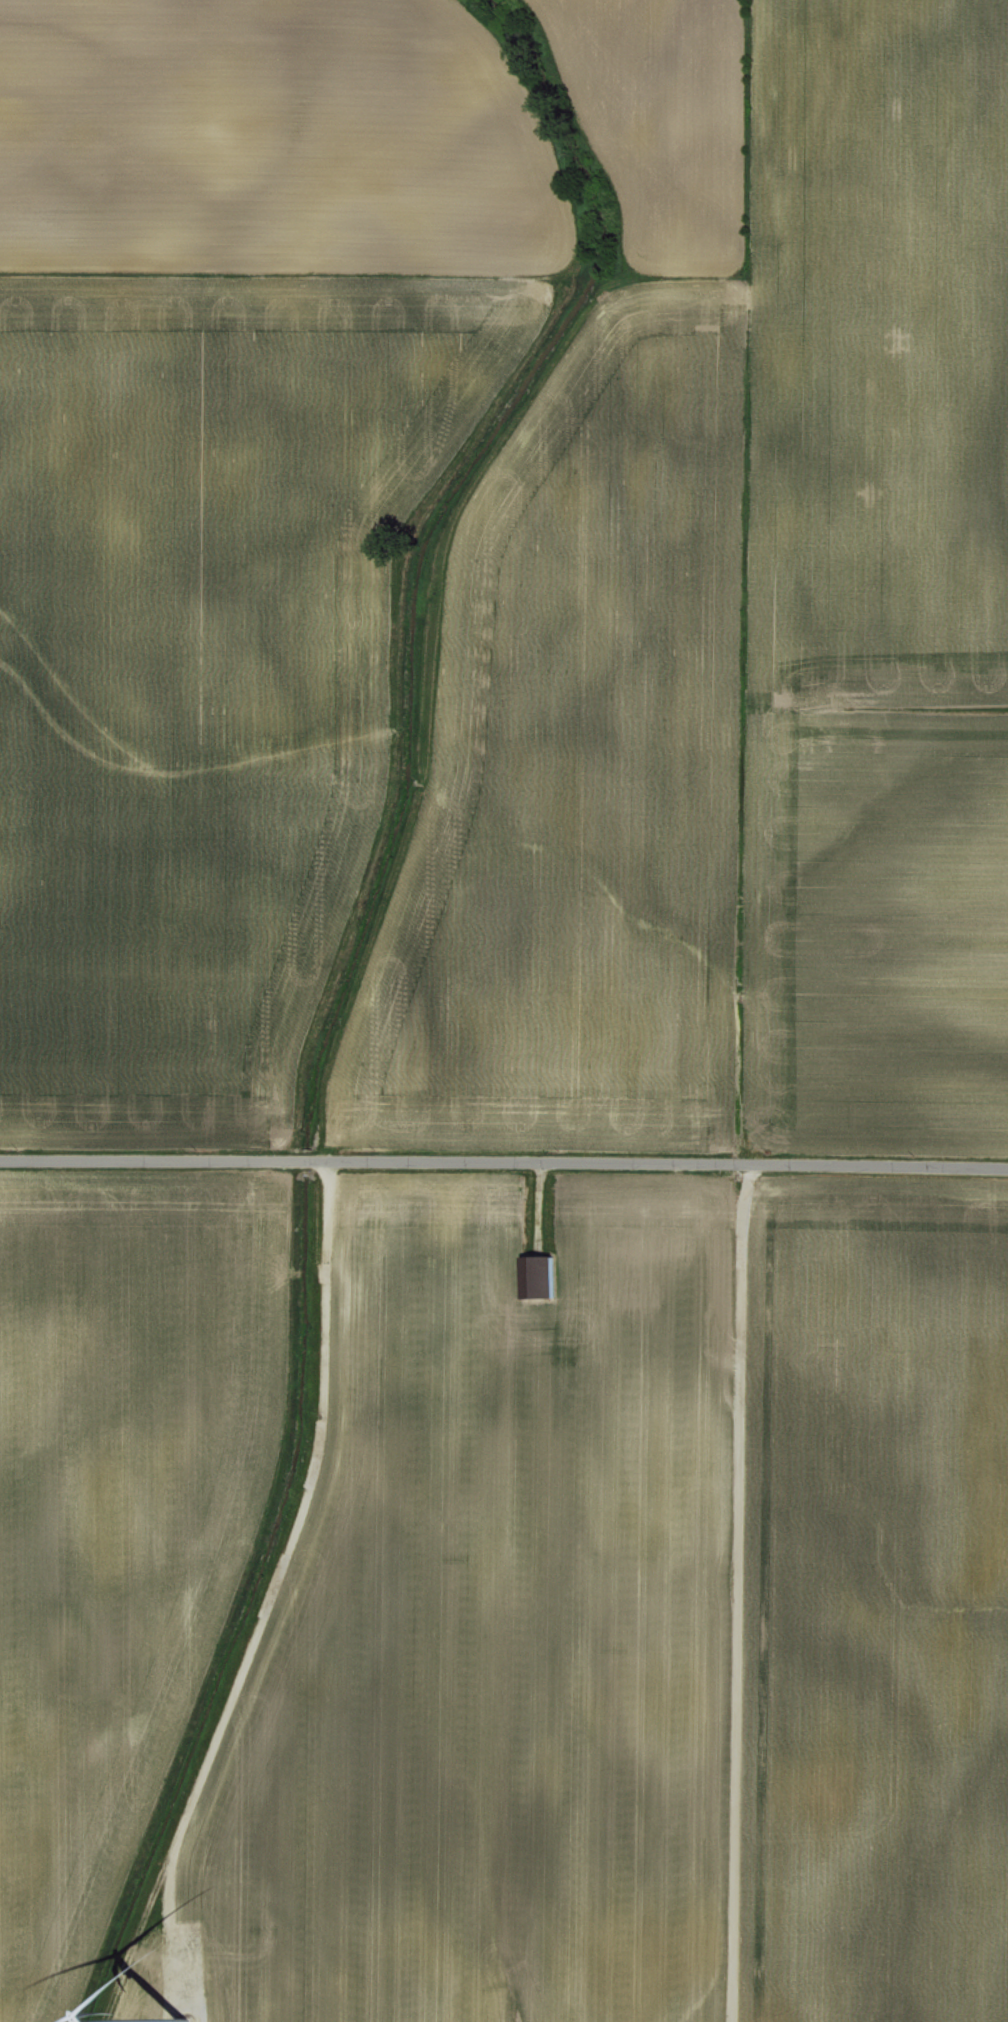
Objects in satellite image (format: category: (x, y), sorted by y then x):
road: (504, 1163)
wind turbine: (184, 2019)

